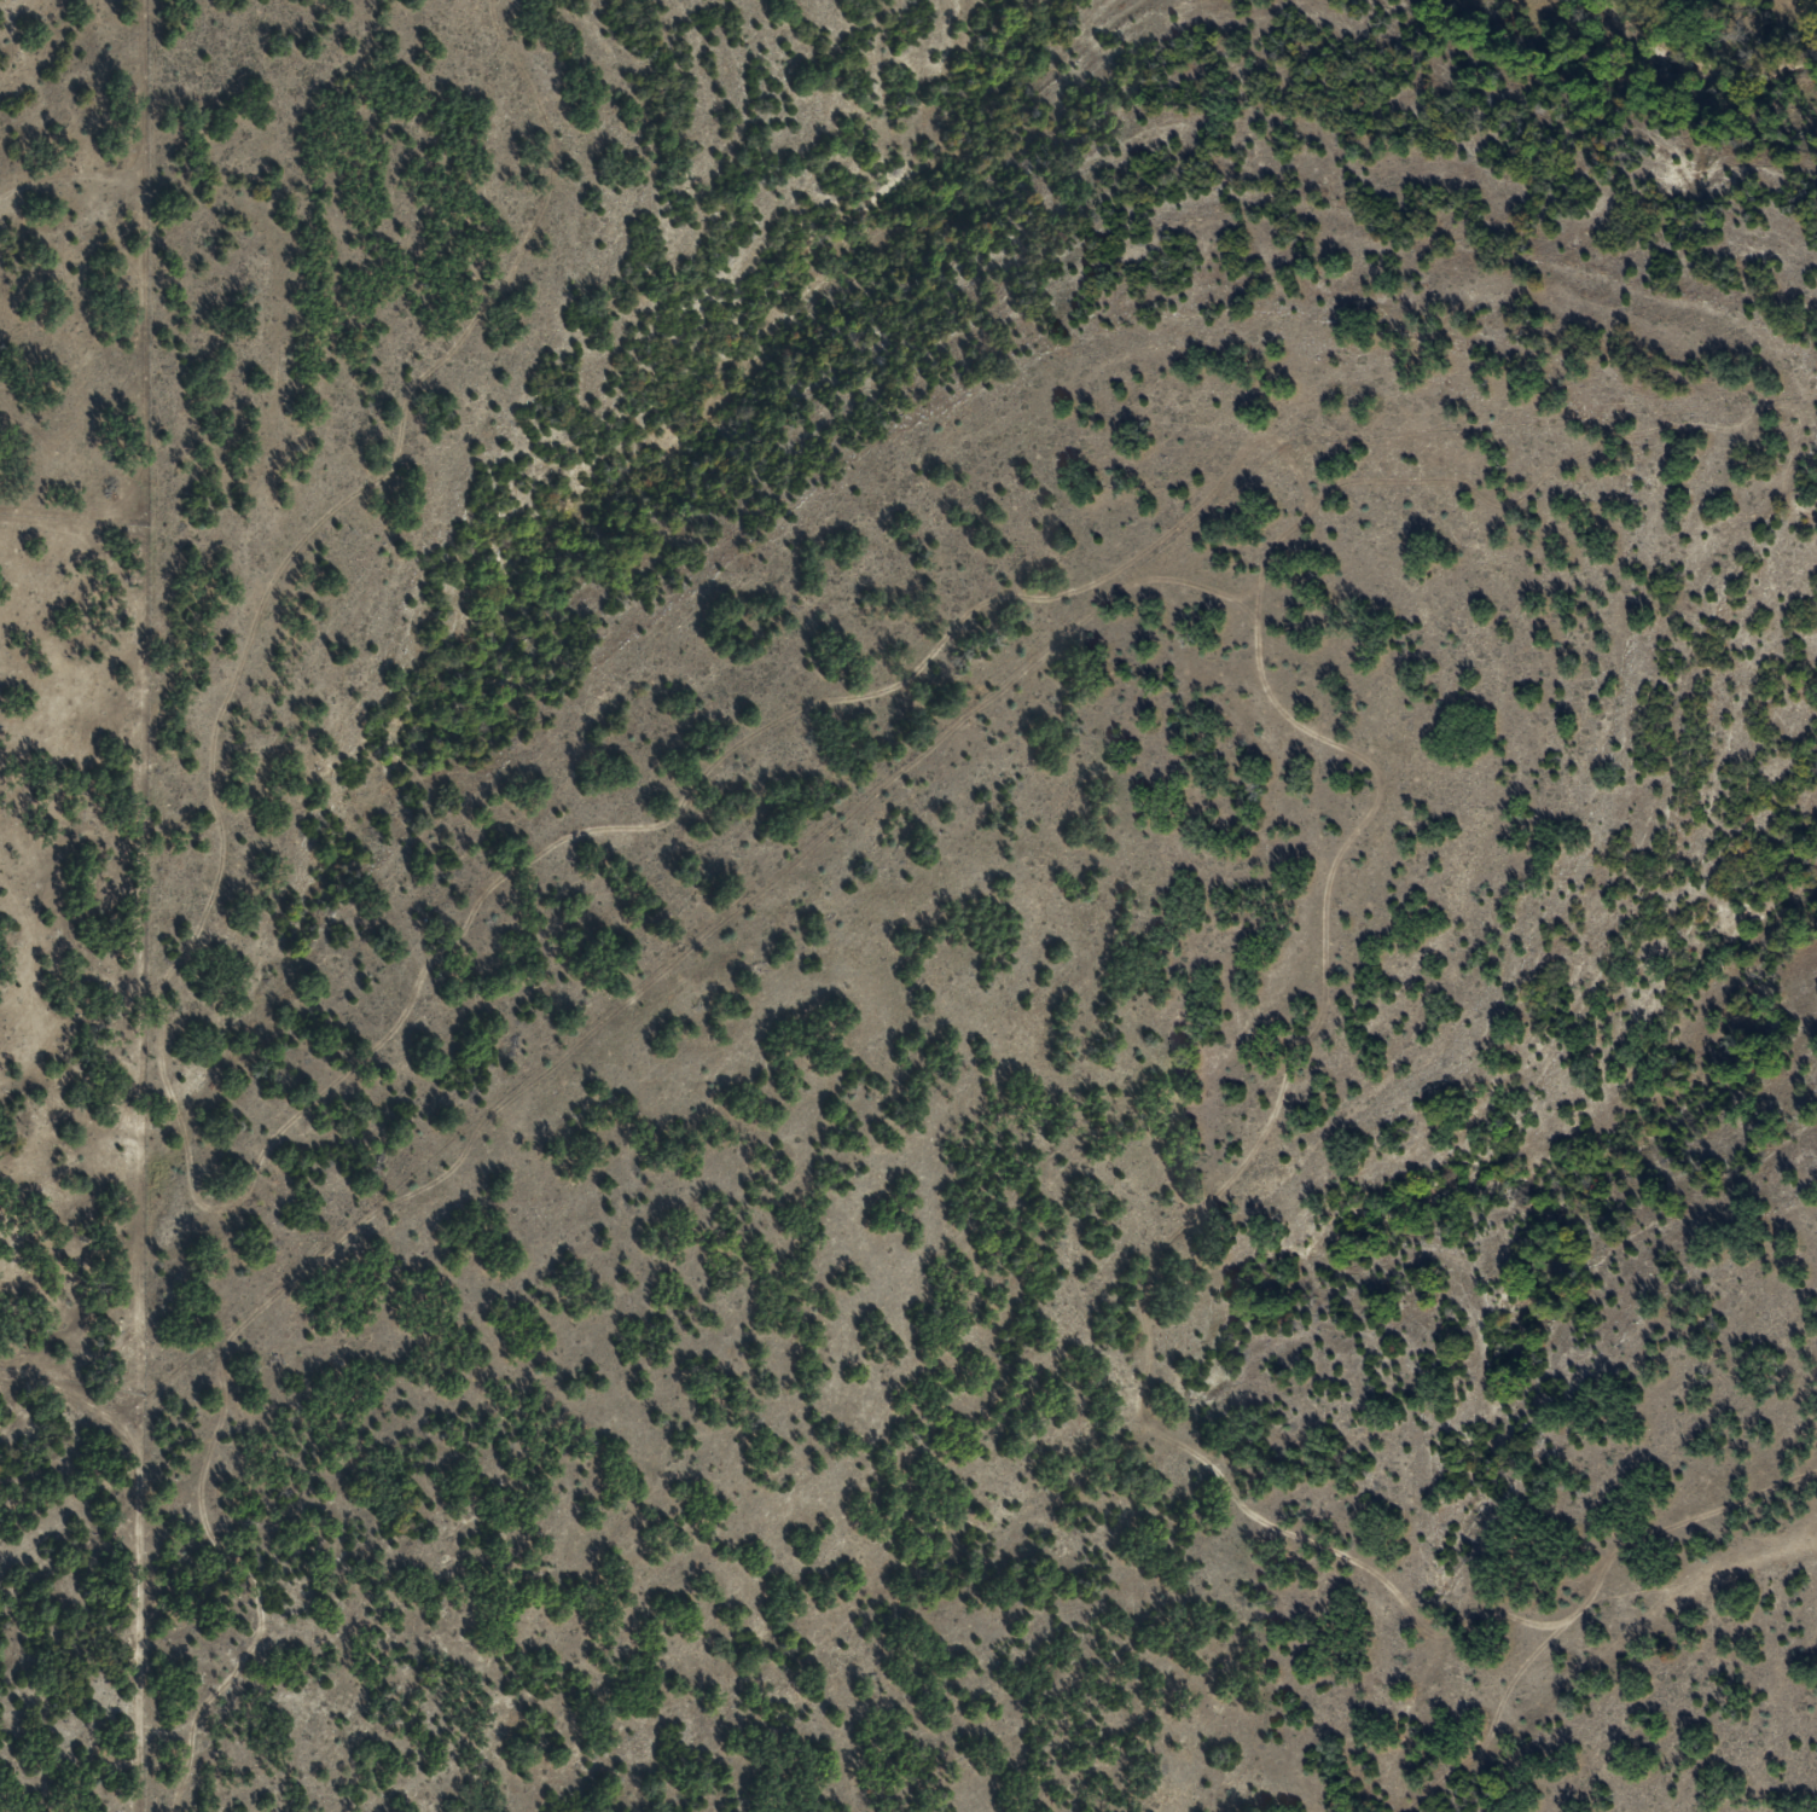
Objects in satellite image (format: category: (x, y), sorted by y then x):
road: (1389, 747)

